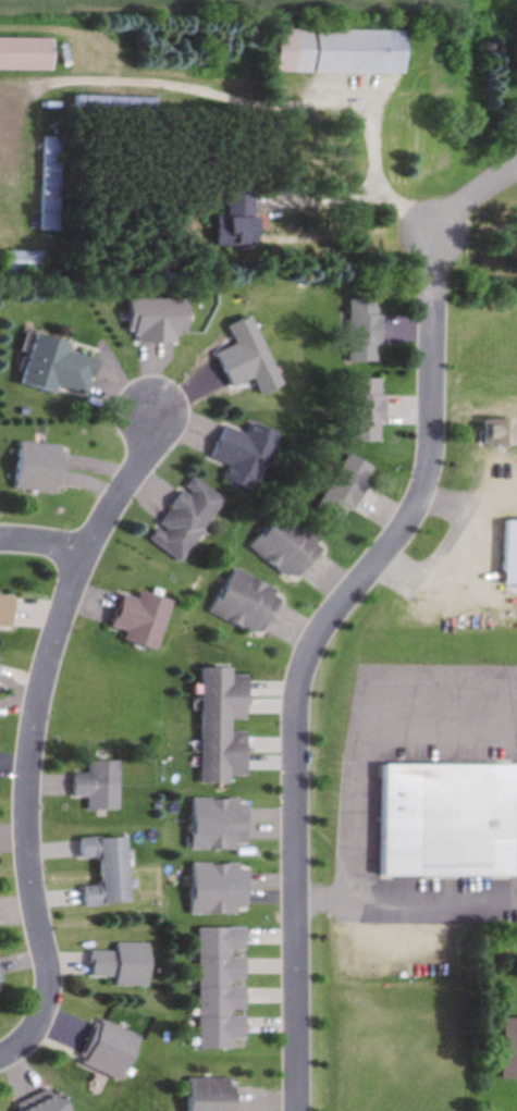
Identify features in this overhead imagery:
crop: (249, 7)
building: (332, 51)
building: (23, 54)
building: (45, 184)
road: (453, 192)
building: (224, 221)
building: (20, 262)
building: (360, 330)
building: (237, 358)
building: (49, 367)
building: (362, 410)
building: (237, 455)
building: (32, 468)
building: (341, 489)
building: (181, 519)
road: (40, 542)
building: (283, 545)
building: (505, 554)
road: (468, 569)
building: (241, 602)
building: (8, 612)
building: (146, 620)
road: (301, 669)
building: (0, 670)
building: (227, 726)
road: (30, 733)
building: (101, 786)
building: (436, 822)
building: (222, 825)
building: (111, 871)
building: (221, 889)
road: (406, 901)
building: (126, 964)
building: (1, 975)
building: (223, 987)
building: (0, 997)
building: (506, 1049)
building: (113, 1051)

